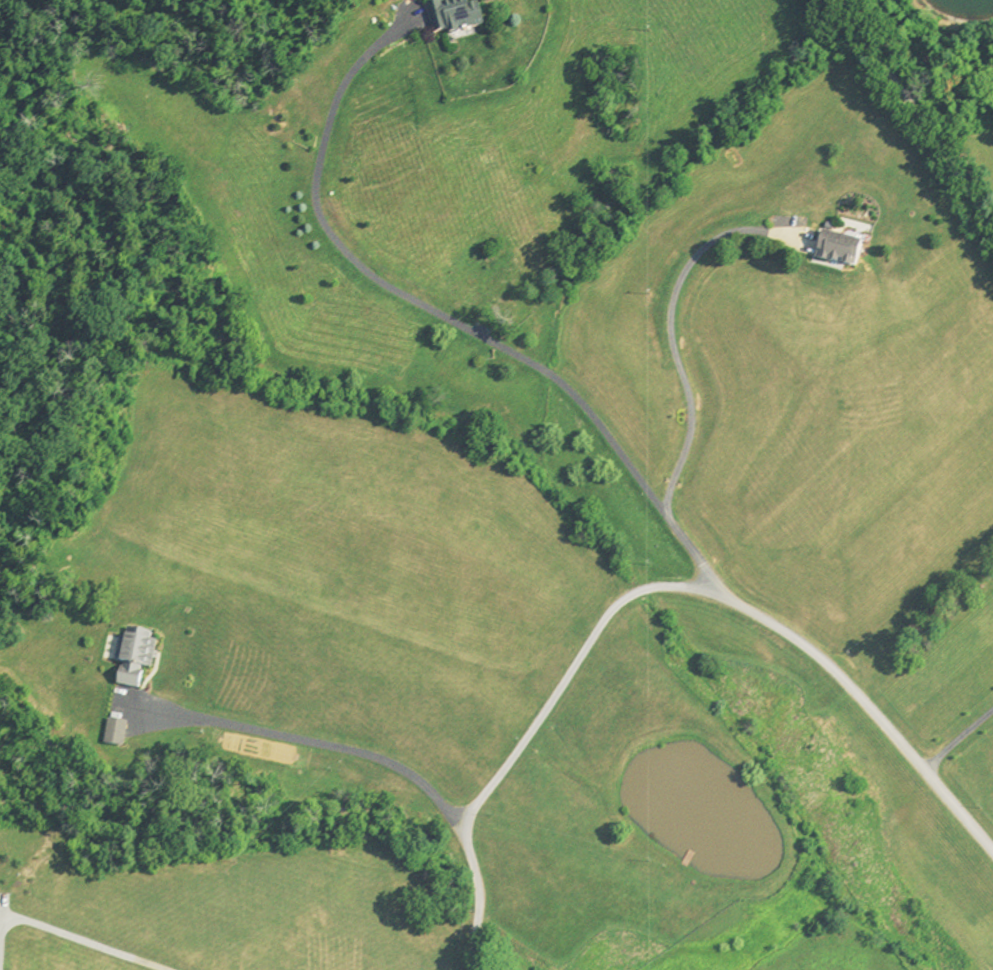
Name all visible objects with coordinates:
building: (448, 18)
road: (918, 112)
building: (834, 253)
road: (446, 322)
road: (669, 340)
building: (129, 656)
road: (544, 707)
road: (865, 708)
building: (110, 733)
road: (958, 738)
road: (311, 745)
road: (74, 935)
road: (480, 936)

